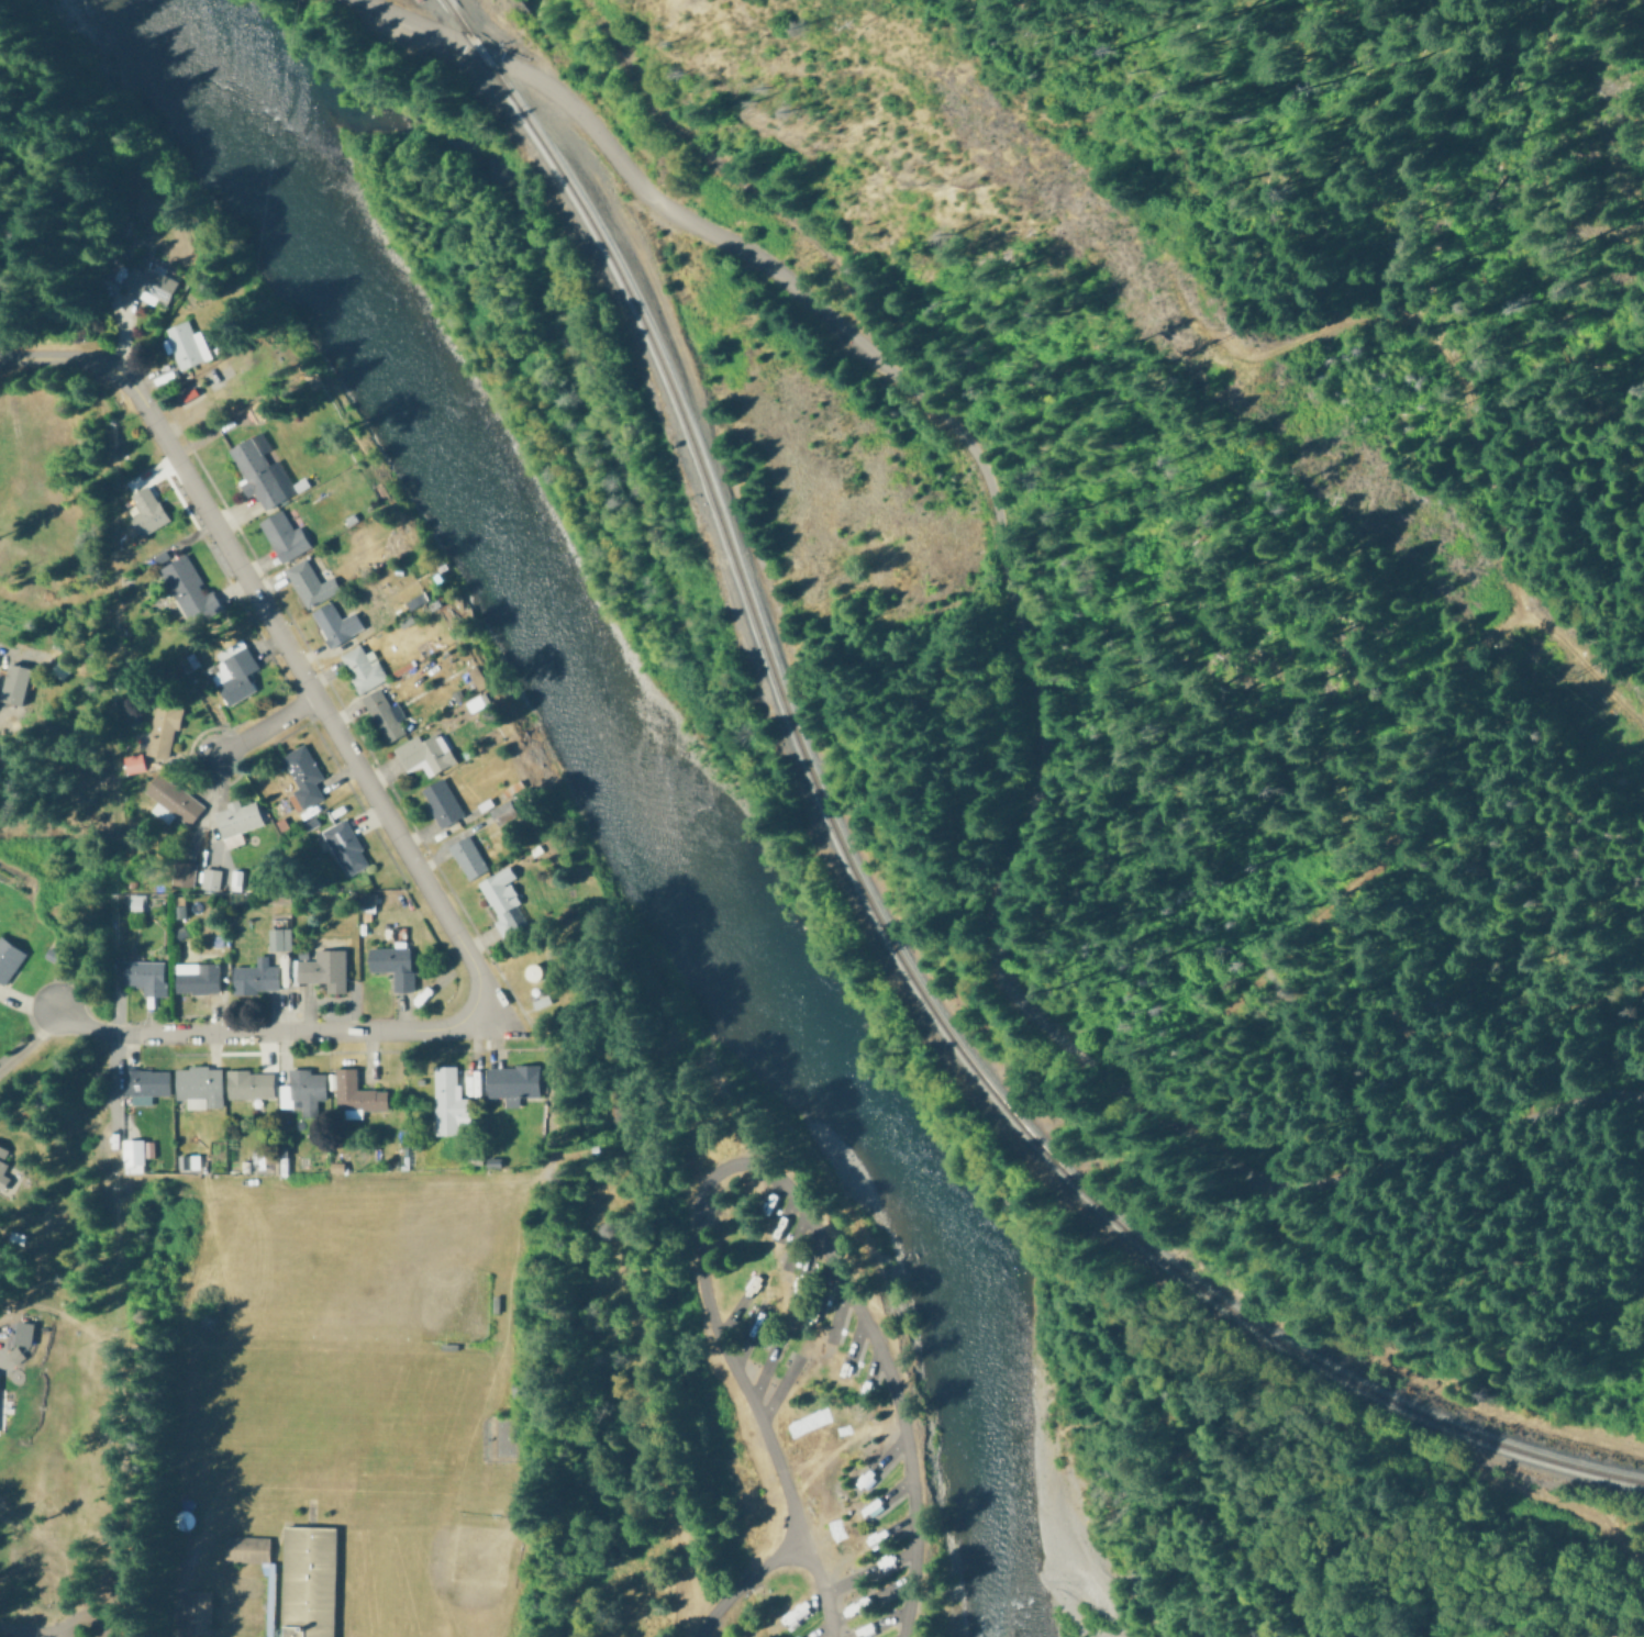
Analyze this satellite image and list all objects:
building: (147, 282)
building: (185, 344)
building: (260, 471)
building: (144, 513)
building: (282, 535)
building: (309, 582)
building: (188, 588)
building: (414, 599)
building: (335, 622)
road: (274, 638)
building: (362, 667)
building: (235, 671)
building: (13, 683)
road: (1026, 691)
building: (384, 714)
road: (262, 730)
building: (423, 753)
building: (133, 762)
building: (302, 775)
building: (171, 800)
building: (441, 801)
river: (630, 806)
building: (238, 816)
building: (345, 846)
building: (467, 856)
building: (181, 872)
building: (209, 878)
building: (235, 879)
building: (501, 899)
building: (134, 901)
railway: (865, 903)
building: (277, 934)
building: (8, 959)
building: (391, 965)
building: (321, 969)
building: (144, 976)
building: (255, 976)
building: (196, 977)
road: (1542, 1016)
road: (265, 1035)
building: (511, 1081)
building: (144, 1083)
building: (198, 1083)
building: (248, 1083)
building: (302, 1090)
building: (355, 1093)
building: (448, 1102)
parking lot: (1526, 1120)
building: (134, 1152)
building: (187, 1160)
road: (745, 1166)
park: (419, 1281)
building: (22, 1332)
building: (246, 1554)
park: (434, 1568)
road: (742, 1582)
building: (308, 1584)
road: (176, 1588)
river: (1026, 1590)
building: (199, 1614)

